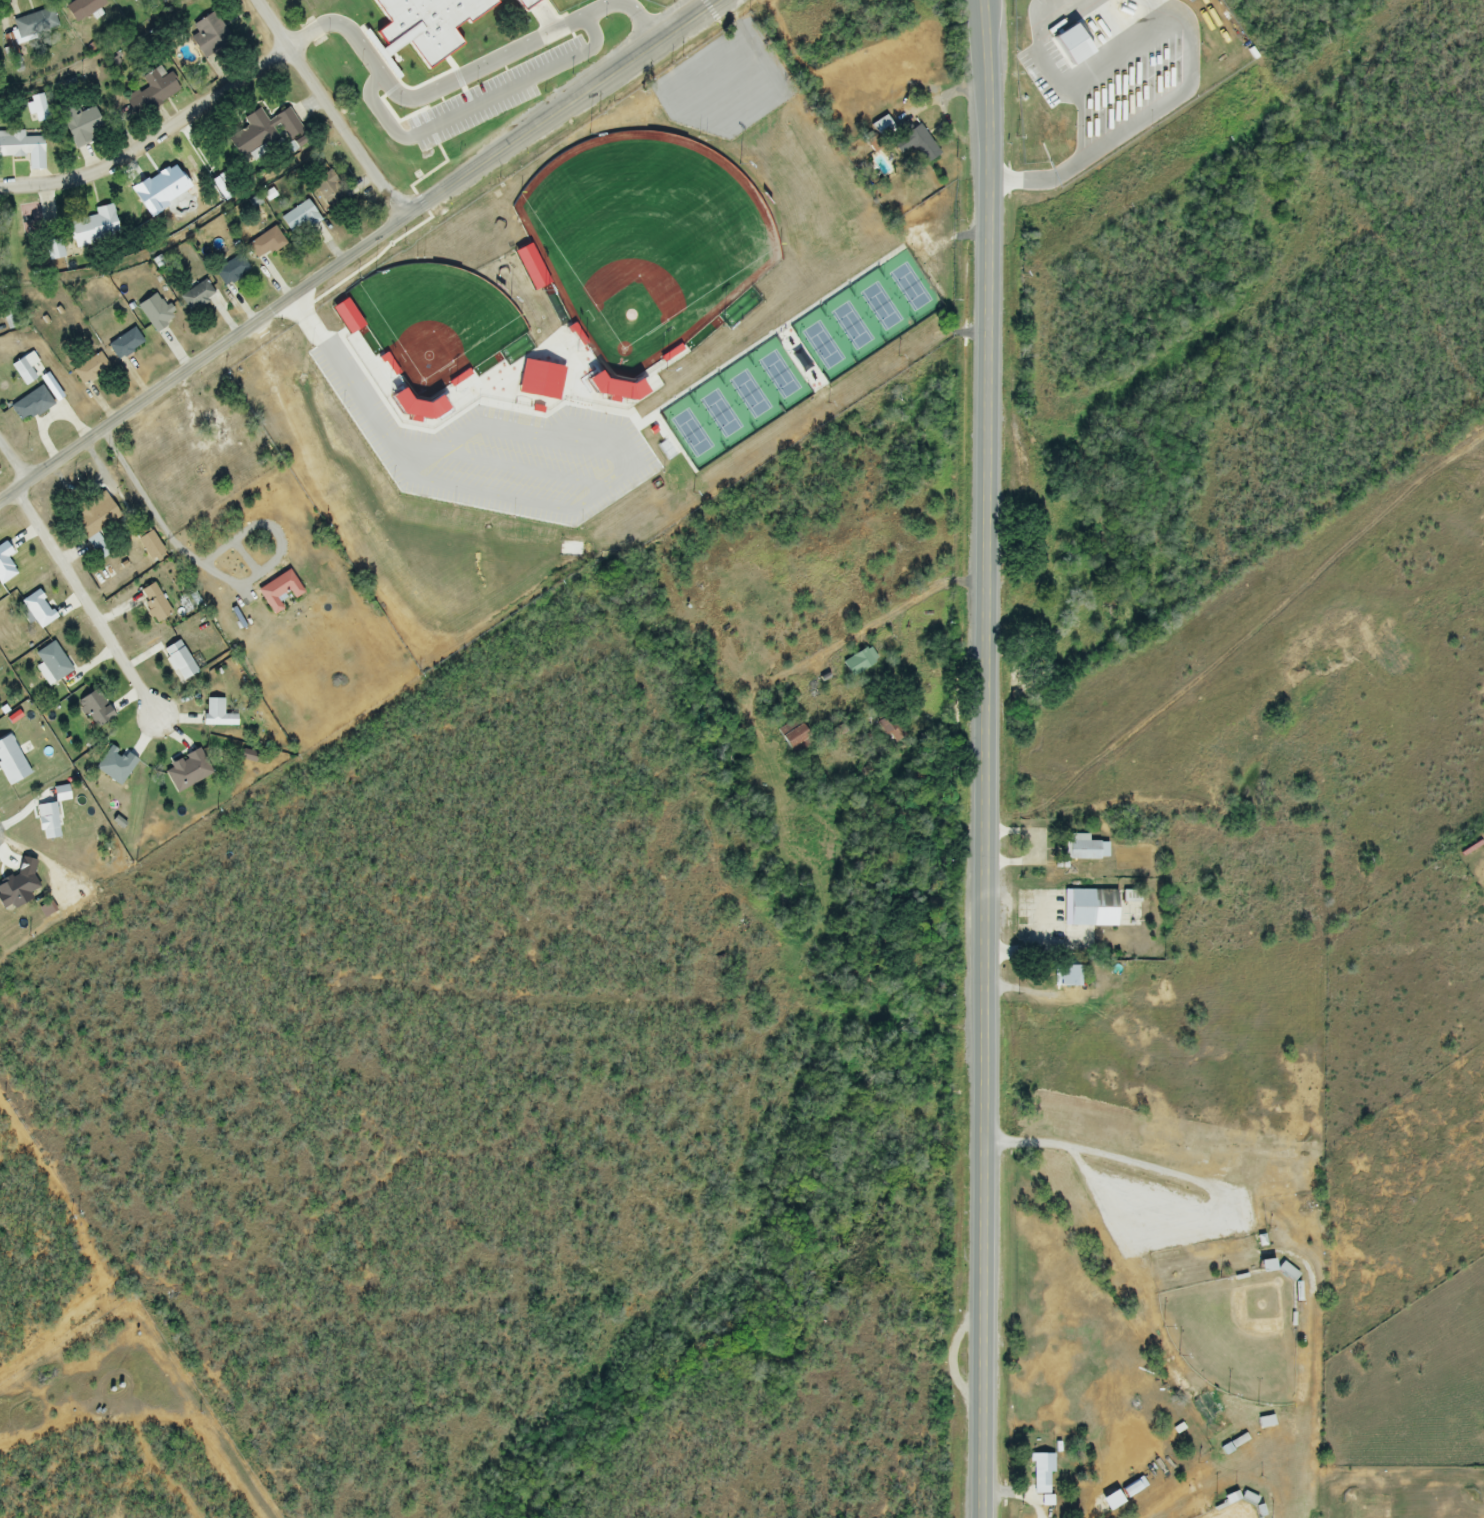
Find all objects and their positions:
building: (131, 0)
building: (81, 8)
building: (533, 17)
building: (34, 24)
park: (346, 26)
building: (211, 40)
building: (150, 94)
road: (328, 109)
building: (649, 116)
road: (1143, 125)
building: (83, 129)
building: (260, 132)
building: (905, 138)
road: (153, 139)
building: (764, 141)
building: (19, 145)
building: (329, 192)
building: (162, 194)
park: (687, 206)
building: (298, 219)
building: (91, 228)
building: (264, 244)
road: (358, 248)
building: (53, 250)
building: (230, 270)
building: (843, 284)
building: (937, 291)
building: (195, 296)
building: (526, 302)
building: (154, 312)
building: (891, 321)
building: (124, 344)
building: (493, 361)
building: (853, 361)
road: (349, 373)
building: (891, 388)
building: (791, 394)
building: (215, 444)
road: (12, 465)
building: (93, 520)
building: (147, 545)
road: (85, 601)
building: (153, 603)
building: (178, 662)
building: (52, 663)
building: (858, 663)
road: (980, 758)
building: (116, 767)
building: (1084, 849)
building: (1091, 908)
road: (1031, 948)
building: (1065, 974)
building: (1041, 1472)

